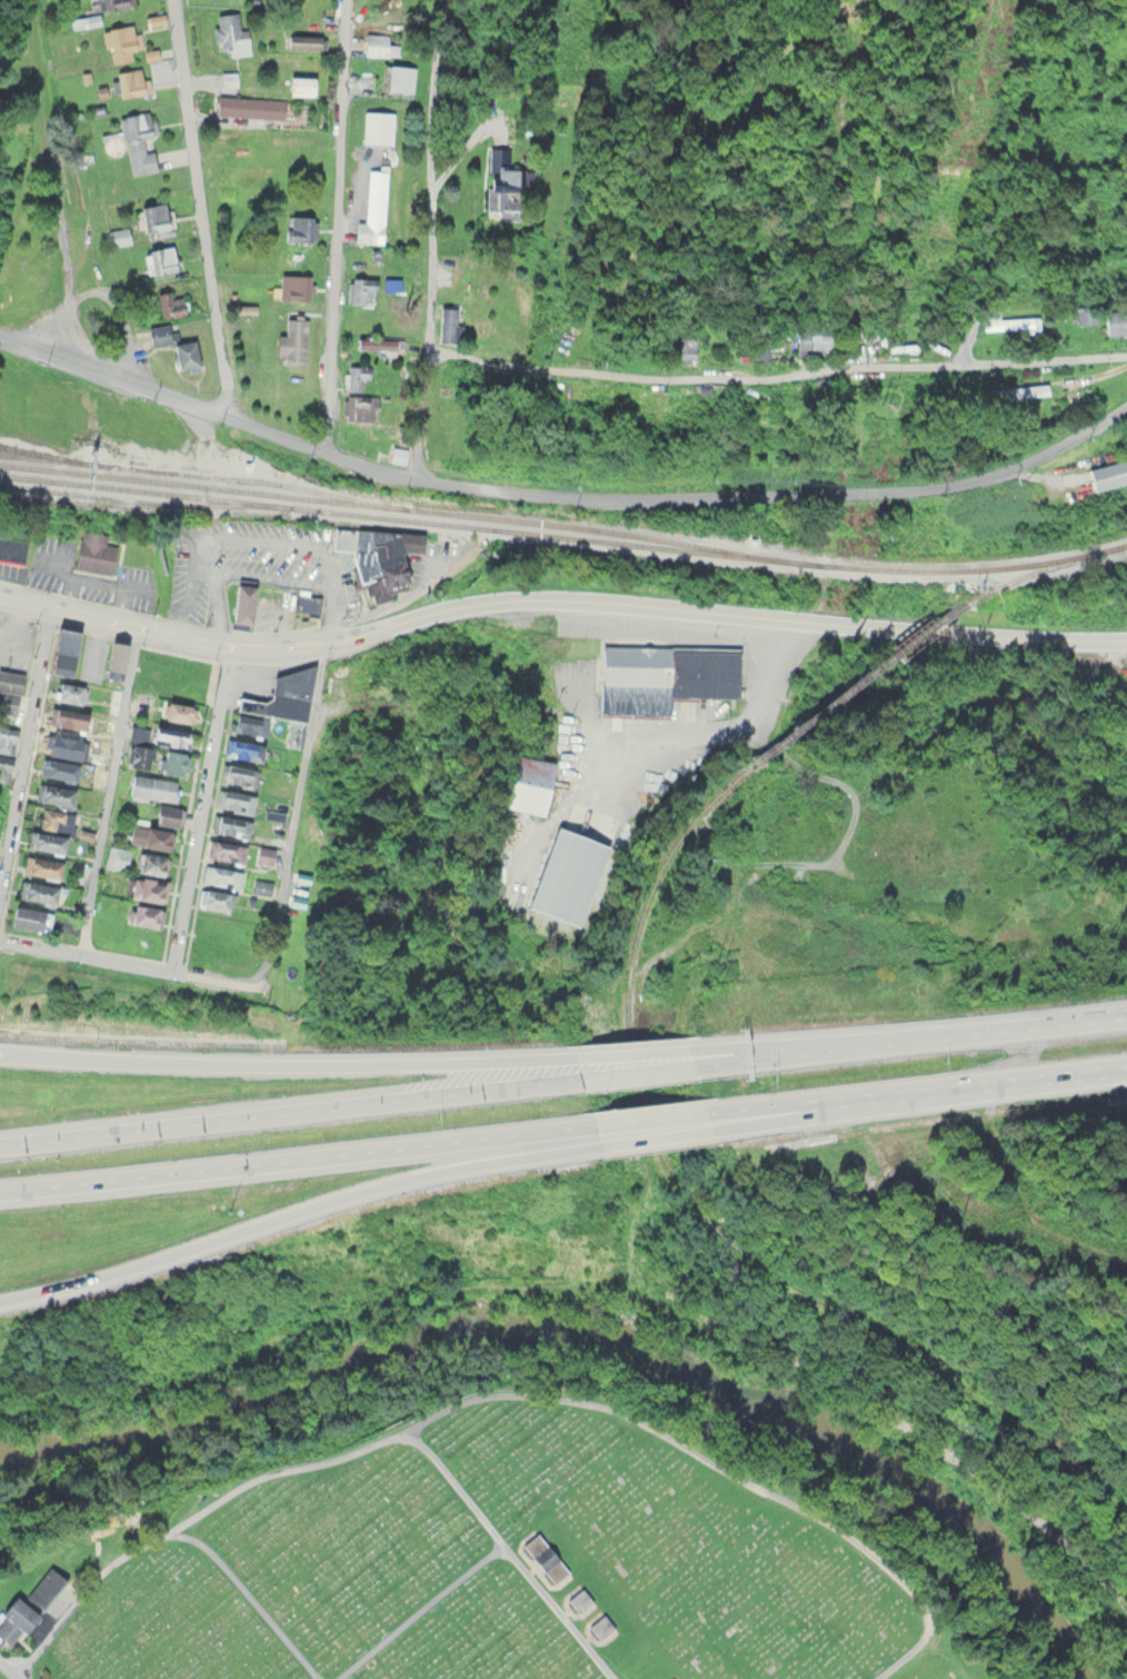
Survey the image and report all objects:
building: (114, 3)
building: (230, 33)
building: (120, 40)
building: (303, 40)
building: (377, 43)
building: (131, 82)
building: (301, 83)
building: (250, 106)
building: (379, 127)
building: (138, 141)
road: (432, 170)
building: (507, 181)
road: (210, 207)
building: (156, 217)
road: (345, 227)
building: (300, 228)
building: (370, 231)
building: (120, 236)
building: (160, 259)
building: (296, 286)
building: (361, 289)
building: (169, 304)
building: (1086, 314)
building: (1007, 320)
building: (1116, 321)
building: (449, 324)
building: (160, 334)
building: (815, 338)
building: (377, 344)
building: (684, 348)
building: (186, 355)
building: (356, 376)
road: (777, 376)
building: (1020, 389)
building: (784, 399)
building: (290, 403)
building: (361, 406)
road: (422, 410)
railway: (38, 450)
railway: (193, 471)
building: (1107, 474)
railway: (80, 493)
road: (561, 494)
railway: (126, 500)
railway: (410, 506)
railway: (563, 535)
building: (12, 548)
building: (94, 552)
building: (378, 558)
railway: (1045, 574)
building: (241, 603)
building: (309, 603)
road: (720, 609)
railway: (935, 627)
road: (937, 629)
road: (1039, 636)
building: (63, 648)
road: (258, 649)
building: (116, 657)
building: (664, 674)
building: (11, 680)
building: (70, 691)
railway: (846, 694)
building: (285, 699)
building: (178, 709)
building: (68, 717)
building: (249, 725)
building: (7, 738)
building: (62, 744)
road: (26, 746)
building: (173, 746)
building: (243, 748)
building: (2, 766)
building: (59, 768)
building: (237, 772)
building: (527, 782)
building: (163, 788)
road: (109, 789)
building: (56, 794)
building: (236, 799)
road: (201, 808)
building: (167, 813)
road: (293, 818)
building: (231, 824)
building: (52, 828)
building: (149, 835)
building: (227, 850)
building: (265, 854)
building: (118, 856)
building: (150, 862)
building: (42, 865)
building: (567, 873)
building: (221, 875)
building: (262, 886)
building: (147, 887)
building: (38, 891)
building: (213, 897)
building: (143, 913)
building: (26, 916)
road: (122, 957)
road: (916, 1039)
road: (797, 1042)
road: (632, 1050)
road: (1026, 1053)
road: (281, 1062)
road: (637, 1071)
road: (920, 1085)
road: (871, 1102)
road: (283, 1111)
road: (650, 1116)
road: (657, 1134)
road: (292, 1158)
railway: (692, 1198)
road: (293, 1210)
river: (606, 1329)
road: (594, 1402)
road: (459, 1480)
road: (173, 1528)
building: (546, 1557)
park: (508, 1569)
building: (44, 1586)
building: (580, 1599)
road: (425, 1607)
road: (565, 1607)
building: (14, 1619)
building: (601, 1626)
road: (8, 1669)
park: (6, 1672)
building: (677, 1678)

